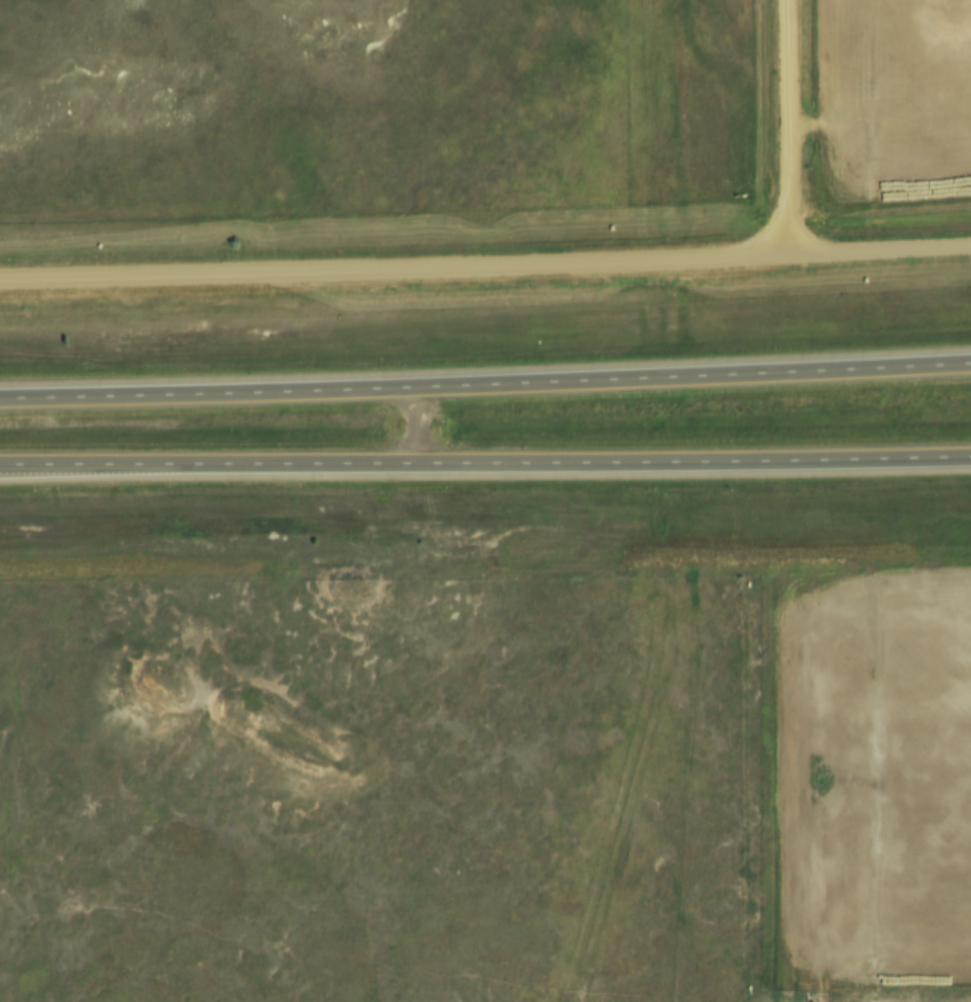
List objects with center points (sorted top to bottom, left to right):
road: (785, 129)
road: (485, 270)
road: (485, 386)
road: (485, 466)

